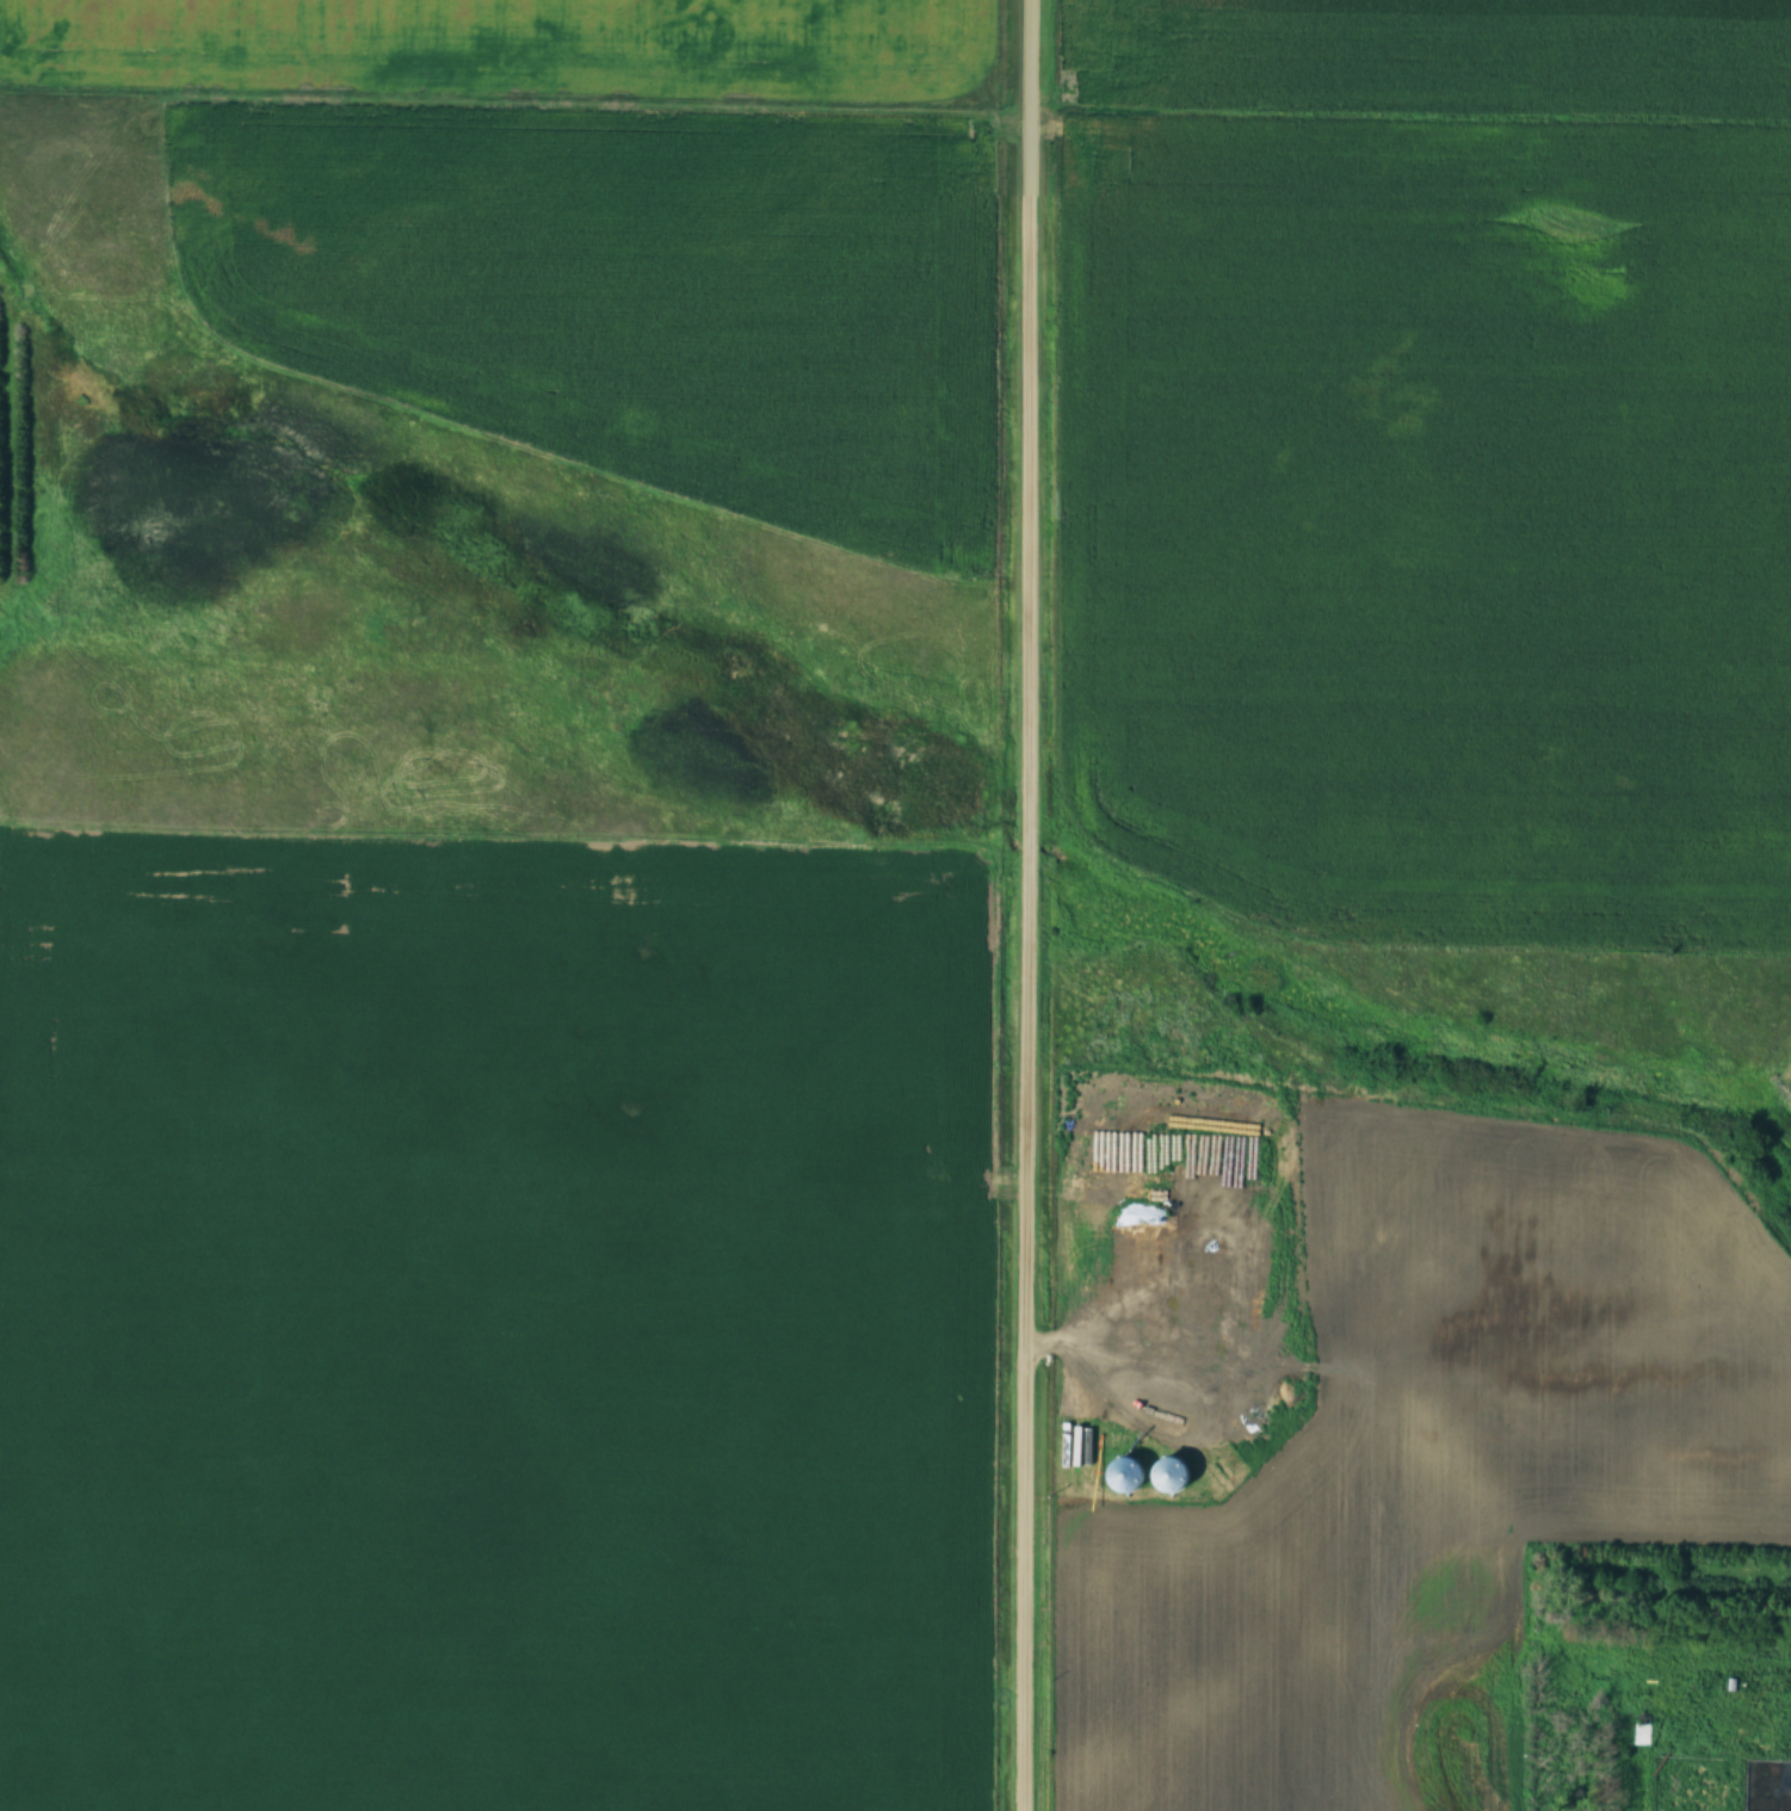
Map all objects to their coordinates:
road: (1029, 905)
building: (1642, 1733)

